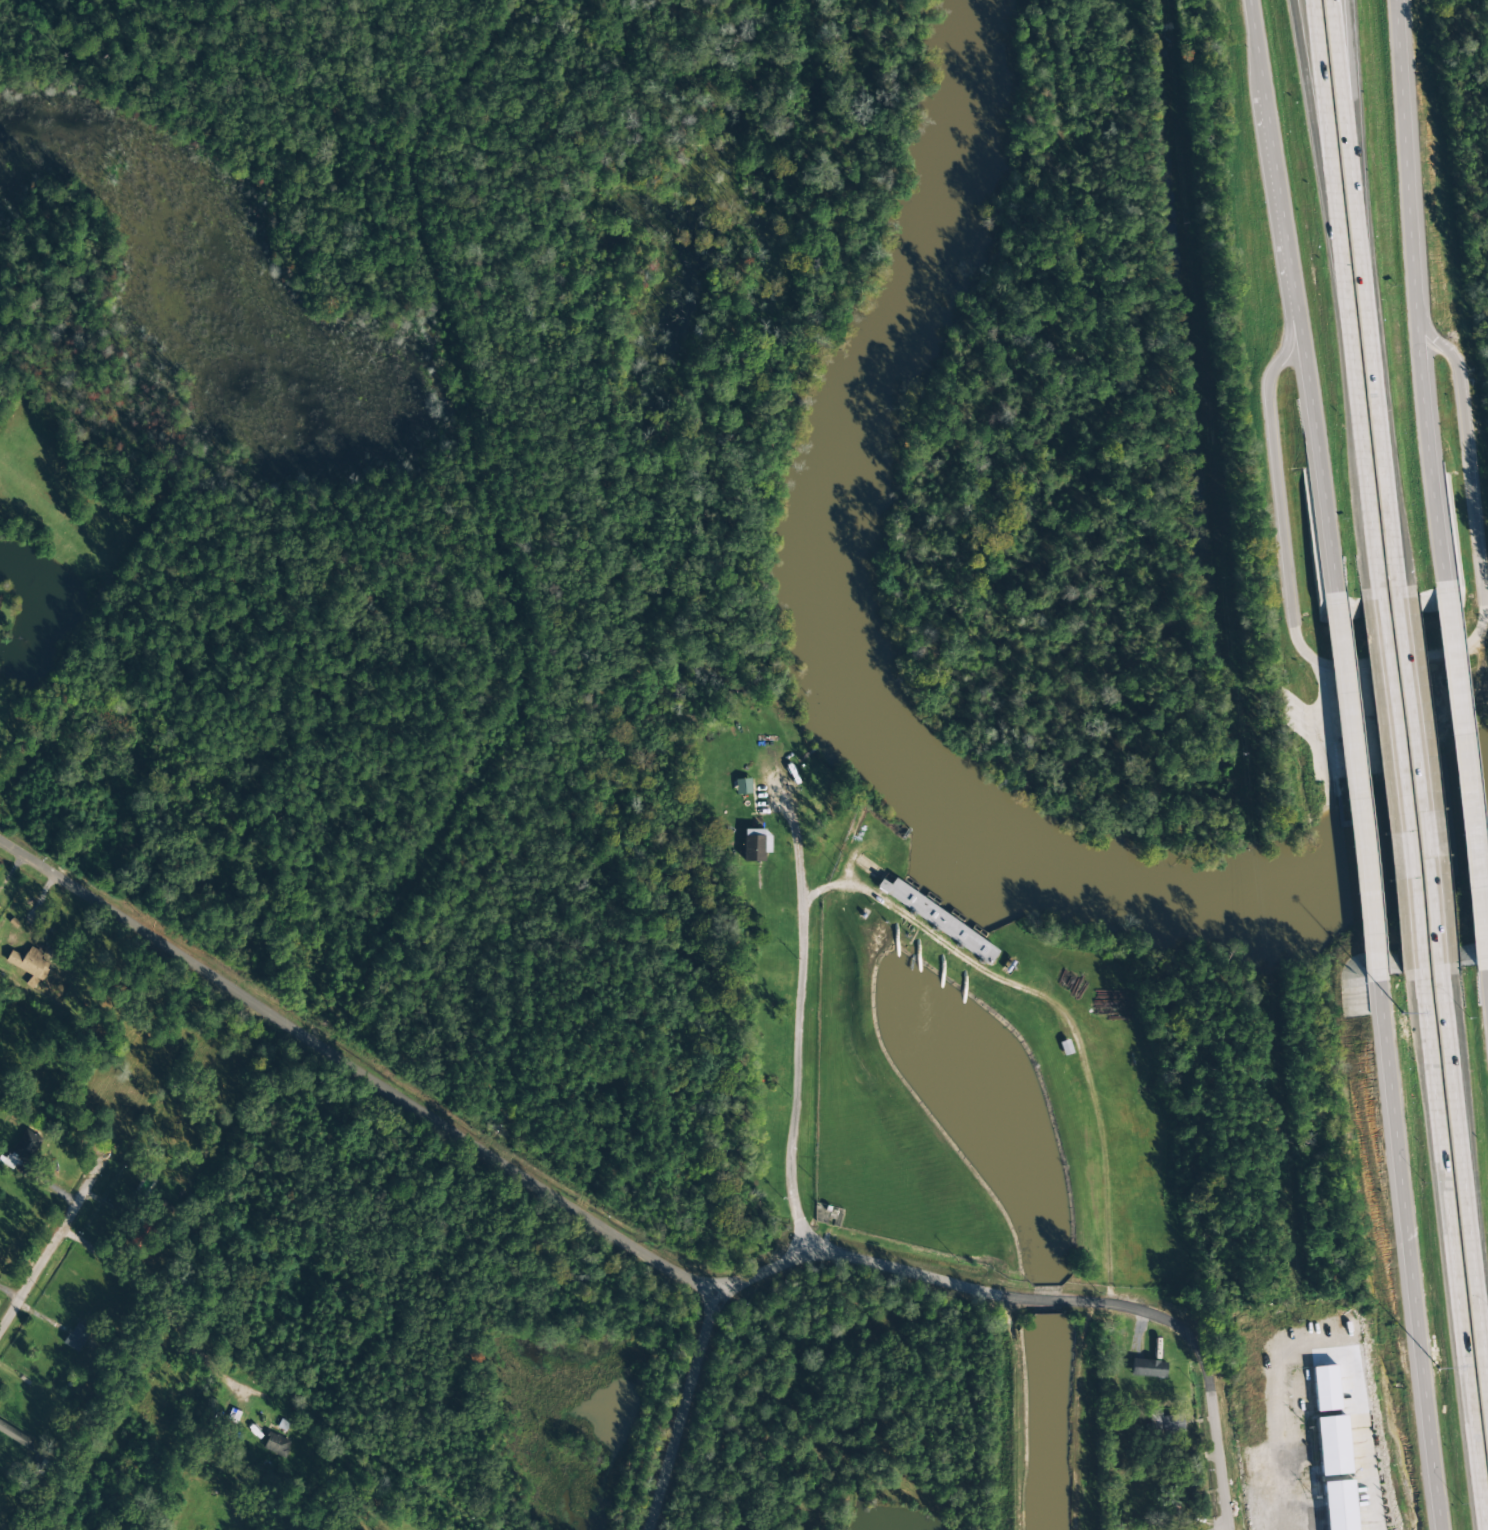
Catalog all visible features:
road: (1350, 101)
road: (1341, 102)
road: (1315, 133)
road: (1323, 133)
road: (1412, 291)
road: (1286, 298)
road: (1375, 401)
road: (1357, 433)
river: (818, 542)
road: (1459, 779)
road: (1423, 783)
road: (1396, 784)
building: (742, 786)
road: (1350, 790)
building: (756, 845)
river: (1341, 886)
building: (938, 920)
building: (29, 963)
road: (1484, 1005)
road: (405, 1098)
building: (23, 1148)
road: (1467, 1168)
road: (53, 1240)
road: (1450, 1249)
road: (1404, 1257)
road: (894, 1268)
building: (76, 1337)
building: (1147, 1368)
building: (1325, 1388)
road: (682, 1409)
building: (1166, 1424)
building: (9, 1432)
building: (275, 1445)
building: (1332, 1445)
building: (1352, 1501)

